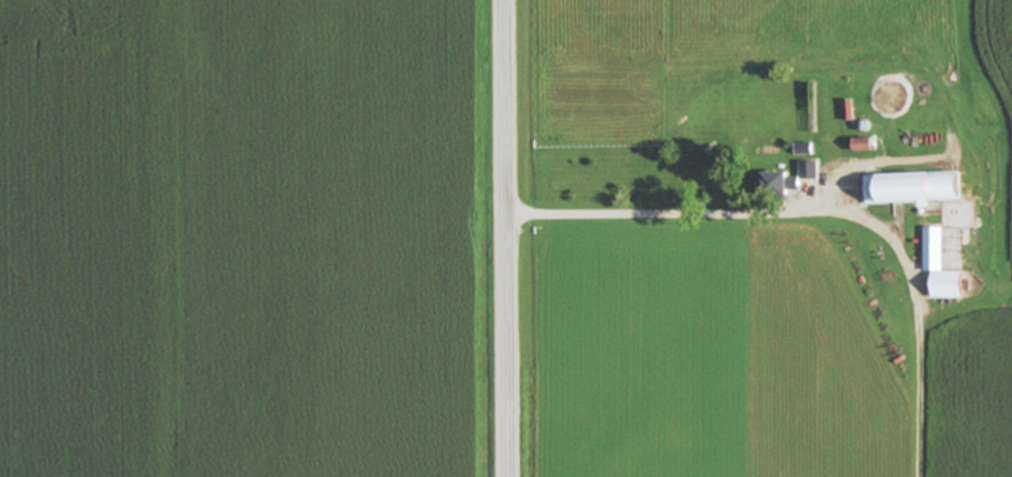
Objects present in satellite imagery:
building: (849, 111)
building: (865, 145)
building: (796, 179)
building: (916, 189)
road: (825, 208)
road: (505, 238)
building: (942, 267)

